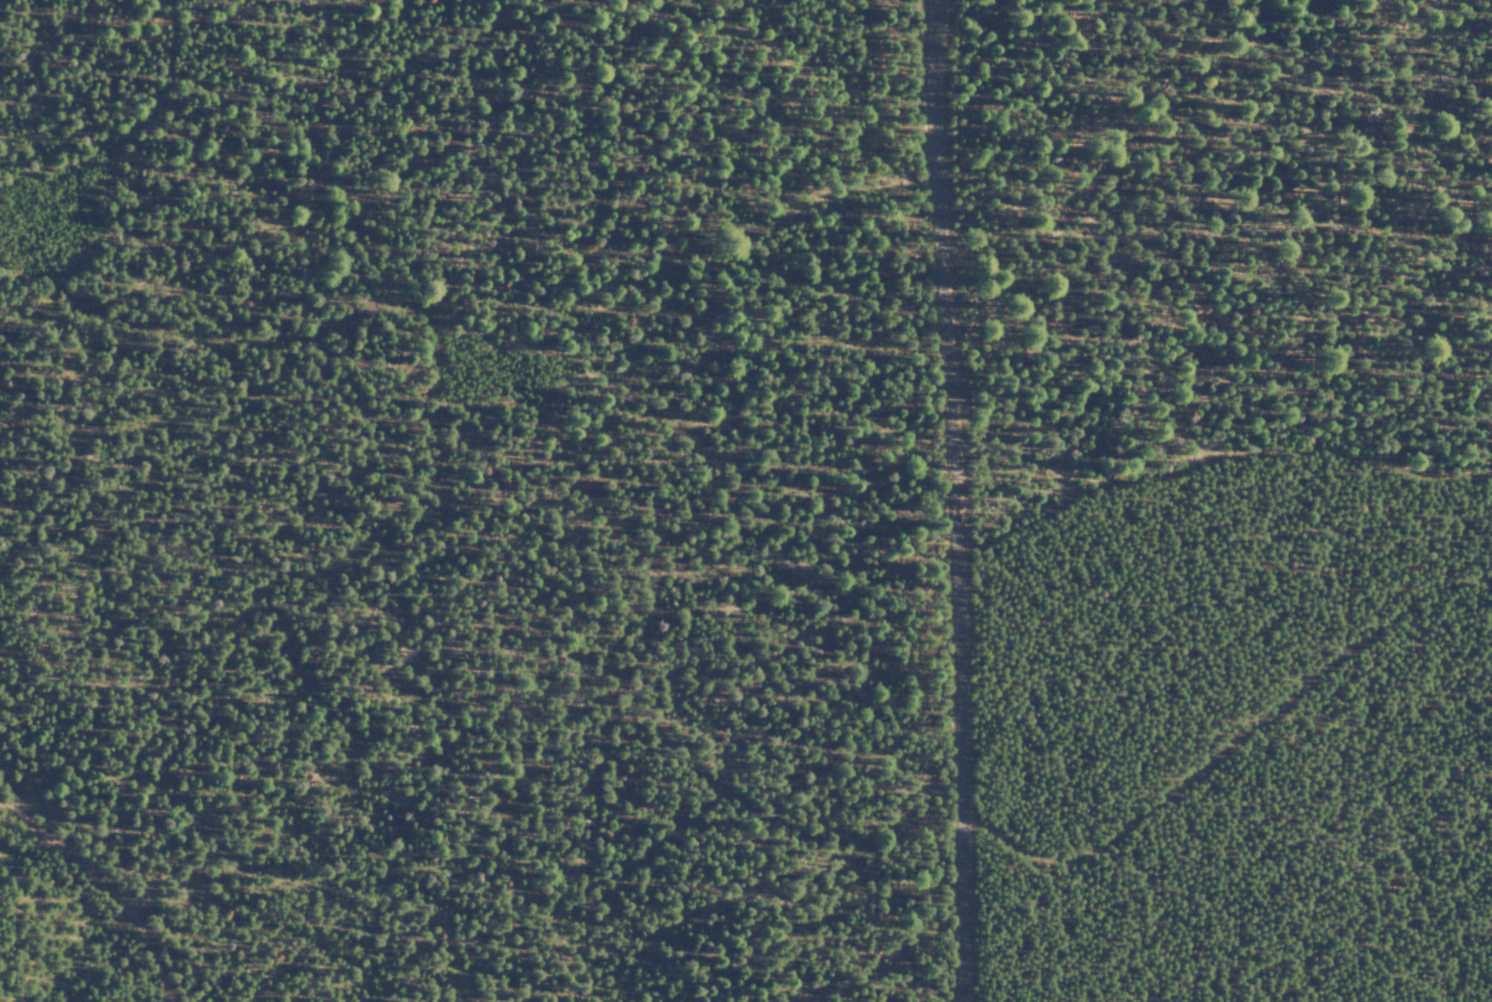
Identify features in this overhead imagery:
road: (73, 898)

